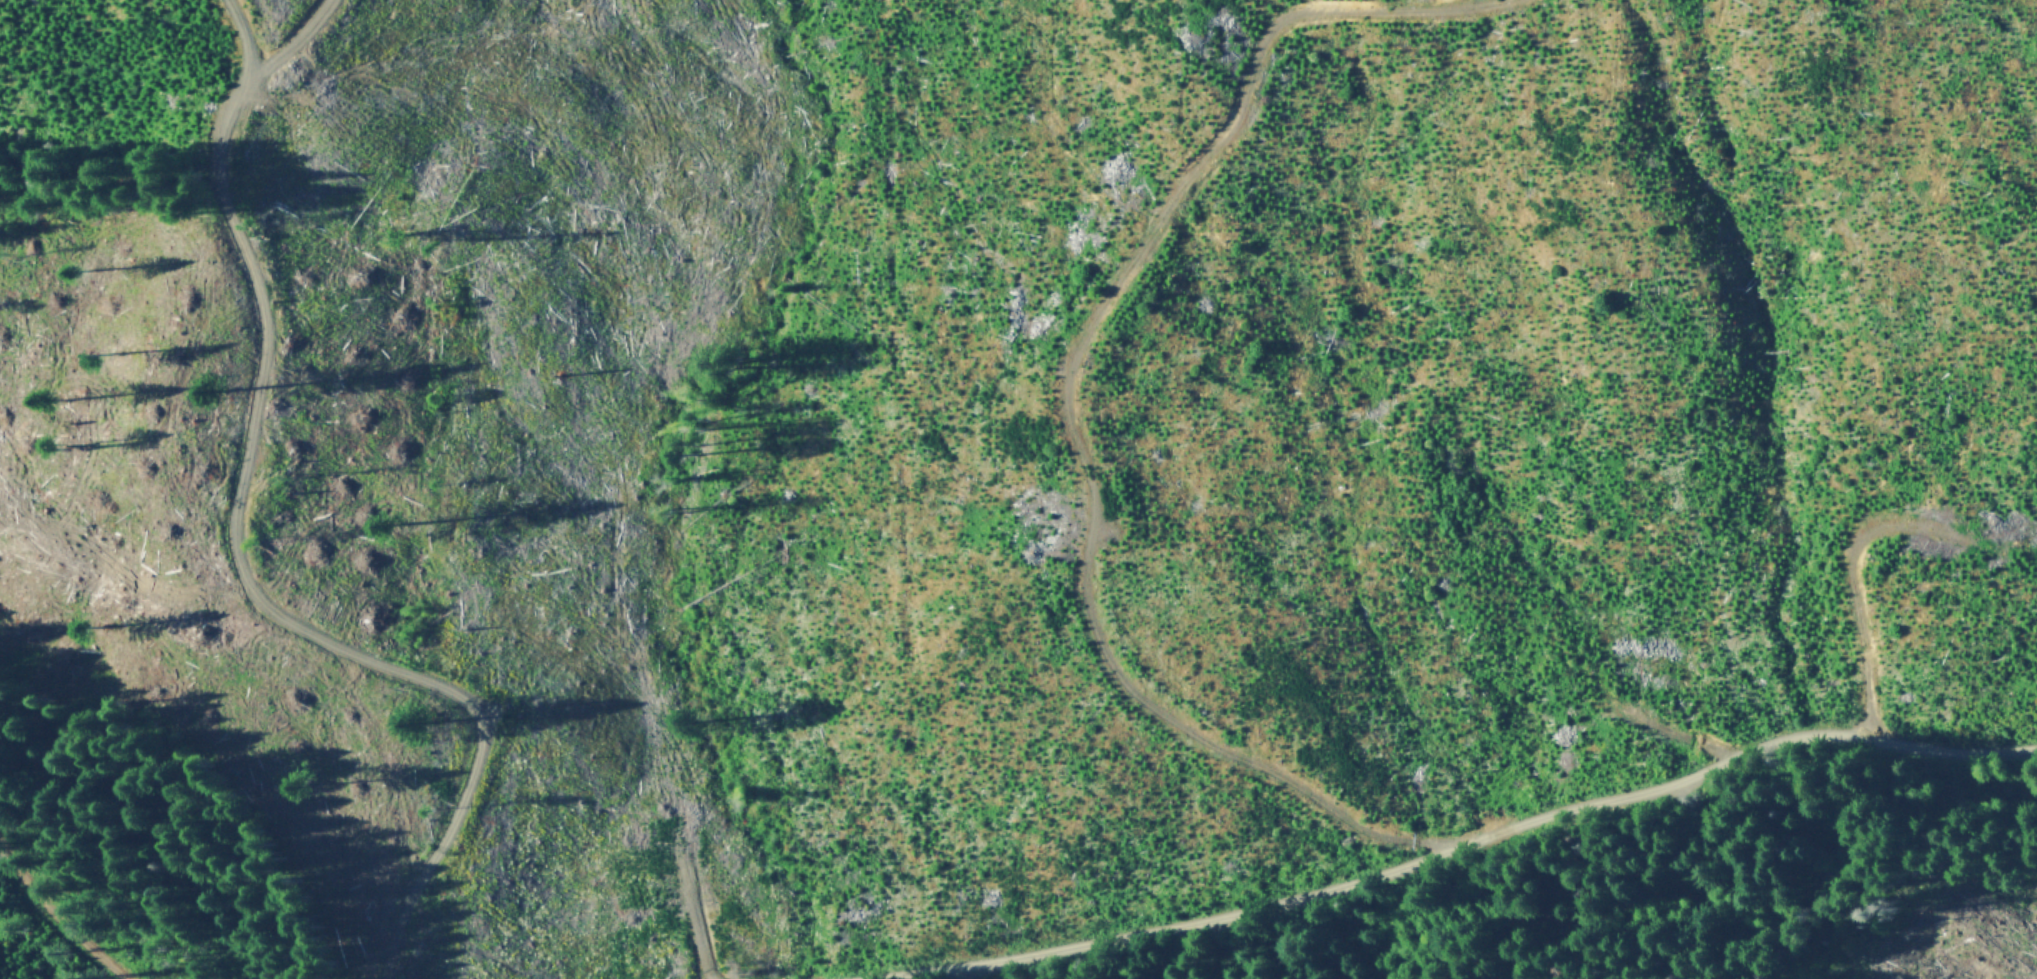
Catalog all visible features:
road: (253, 560)
road: (1463, 848)
road: (64, 912)

